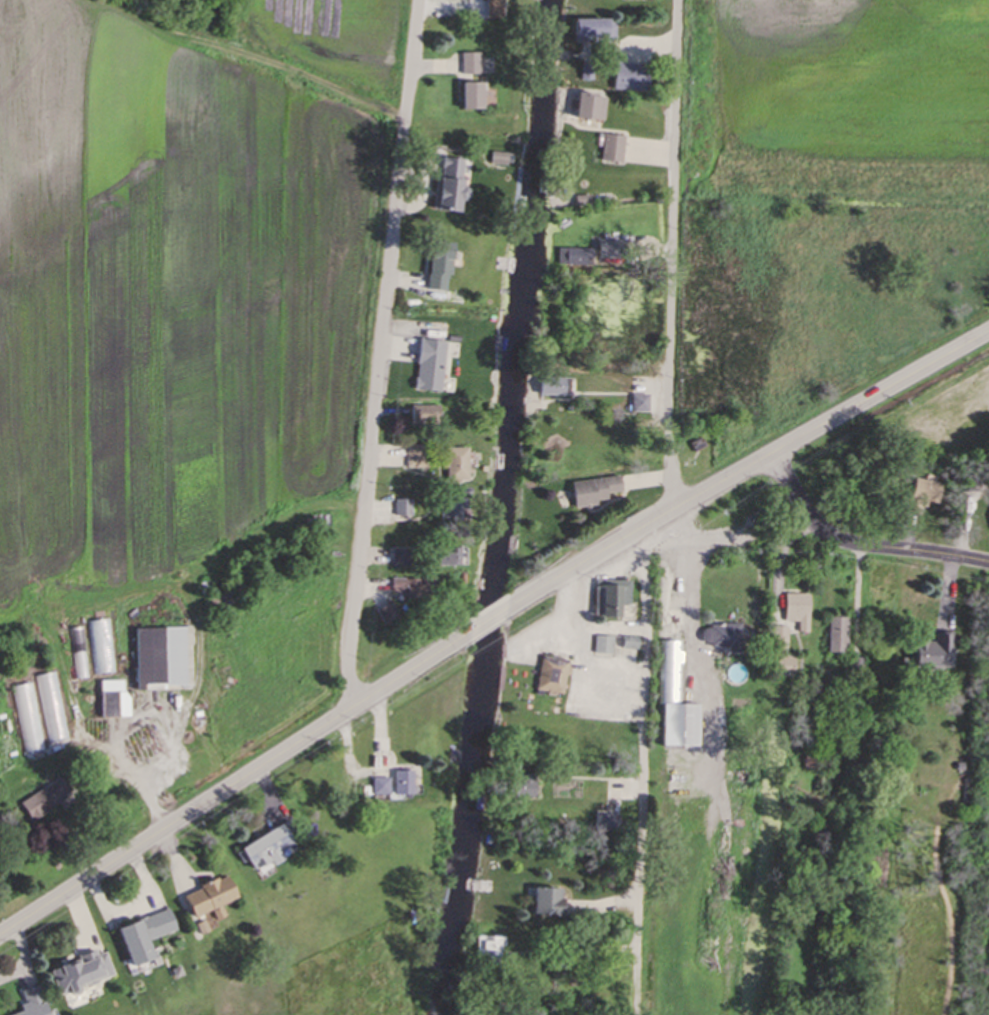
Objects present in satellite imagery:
building: (494, 8)
building: (595, 32)
building: (472, 65)
building: (627, 78)
building: (474, 98)
building: (592, 110)
building: (613, 152)
building: (453, 185)
road: (670, 254)
building: (442, 270)
road: (381, 363)
building: (435, 367)
building: (556, 388)
road: (882, 399)
building: (637, 404)
building: (427, 417)
building: (421, 458)
building: (458, 466)
building: (597, 492)
building: (928, 495)
building: (404, 508)
building: (448, 513)
road: (637, 539)
road: (860, 546)
building: (401, 558)
building: (450, 559)
road: (689, 582)
building: (799, 612)
building: (390, 618)
road: (485, 633)
building: (839, 636)
building: (722, 637)
building: (603, 647)
road: (582, 650)
building: (936, 652)
building: (165, 660)
building: (553, 678)
building: (679, 706)
building: (113, 707)
building: (51, 709)
building: (27, 720)
road: (644, 775)
building: (405, 784)
building: (381, 788)
building: (528, 788)
road: (235, 794)
building: (48, 800)
building: (270, 848)
building: (213, 898)
building: (550, 903)
building: (146, 938)
building: (490, 949)
building: (83, 974)
building: (35, 1003)

